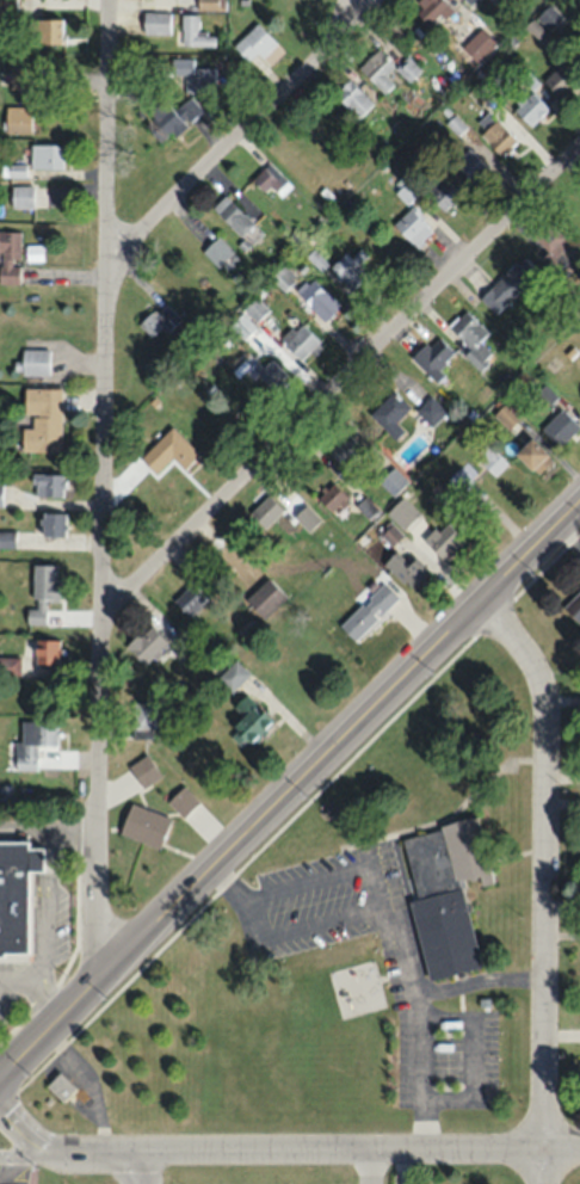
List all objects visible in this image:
building: (211, 5)
building: (7, 7)
building: (430, 10)
road: (346, 17)
building: (548, 17)
building: (155, 21)
building: (43, 31)
building: (193, 31)
building: (544, 38)
building: (479, 44)
building: (258, 45)
building: (407, 68)
building: (377, 69)
building: (192, 75)
building: (32, 79)
building: (560, 79)
building: (477, 92)
building: (352, 98)
building: (530, 106)
building: (171, 117)
building: (18, 118)
building: (494, 132)
road: (240, 138)
building: (47, 155)
building: (470, 165)
building: (17, 169)
building: (269, 178)
building: (442, 191)
building: (21, 196)
building: (234, 216)
building: (412, 226)
building: (549, 238)
building: (221, 255)
building: (8, 257)
building: (347, 267)
building: (508, 284)
building: (316, 297)
building: (255, 309)
building: (160, 320)
building: (470, 335)
building: (300, 340)
building: (432, 357)
building: (32, 360)
building: (272, 371)
road: (339, 388)
building: (430, 409)
building: (389, 413)
building: (506, 415)
building: (42, 419)
building: (560, 428)
building: (345, 450)
building: (171, 452)
building: (532, 455)
building: (494, 464)
building: (393, 480)
building: (461, 480)
building: (44, 483)
building: (0, 493)
road: (99, 494)
building: (332, 497)
building: (266, 511)
building: (403, 513)
building: (307, 518)
building: (53, 524)
building: (444, 539)
building: (407, 571)
building: (43, 592)
building: (266, 598)
building: (190, 599)
building: (573, 606)
building: (368, 611)
building: (147, 643)
building: (47, 652)
building: (10, 665)
building: (233, 676)
building: (144, 719)
building: (248, 722)
building: (33, 741)
building: (144, 770)
road: (291, 791)
building: (181, 798)
building: (144, 826)
road: (48, 830)
road: (322, 876)
road: (228, 883)
road: (542, 886)
building: (445, 894)
building: (16, 896)
road: (298, 927)
road: (479, 981)
road: (37, 986)
road: (420, 1025)
building: (60, 1086)
road: (21, 1128)
road: (24, 1152)
road: (93, 1153)
road: (359, 1154)
road: (6, 1166)
road: (140, 1168)
road: (371, 1170)
parking lot: (85, 1180)

